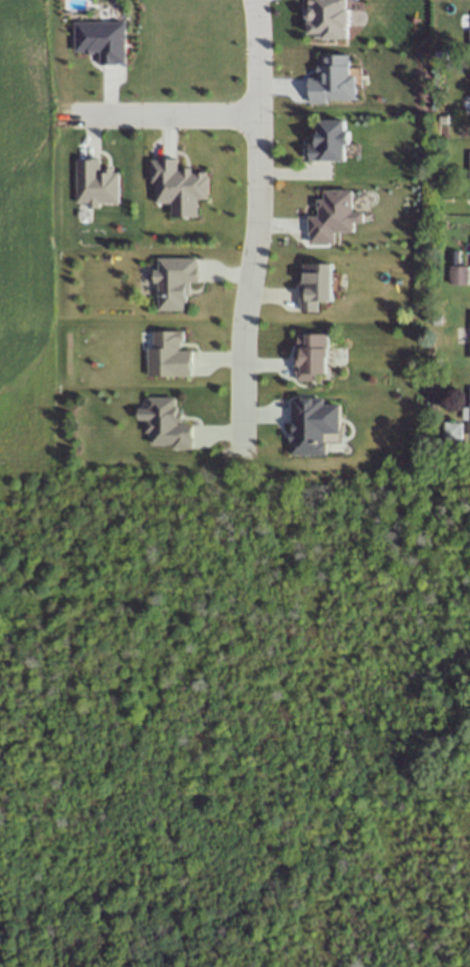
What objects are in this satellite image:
building: (330, 18)
building: (102, 41)
building: (469, 46)
building: (333, 81)
road: (167, 113)
building: (443, 119)
building: (330, 142)
building: (469, 179)
building: (95, 184)
building: (178, 187)
building: (447, 198)
building: (331, 216)
road: (258, 222)
building: (458, 276)
building: (175, 282)
building: (315, 286)
building: (436, 321)
building: (469, 337)
building: (168, 356)
building: (311, 356)
building: (469, 421)
building: (166, 424)
building: (313, 425)
building: (452, 432)

